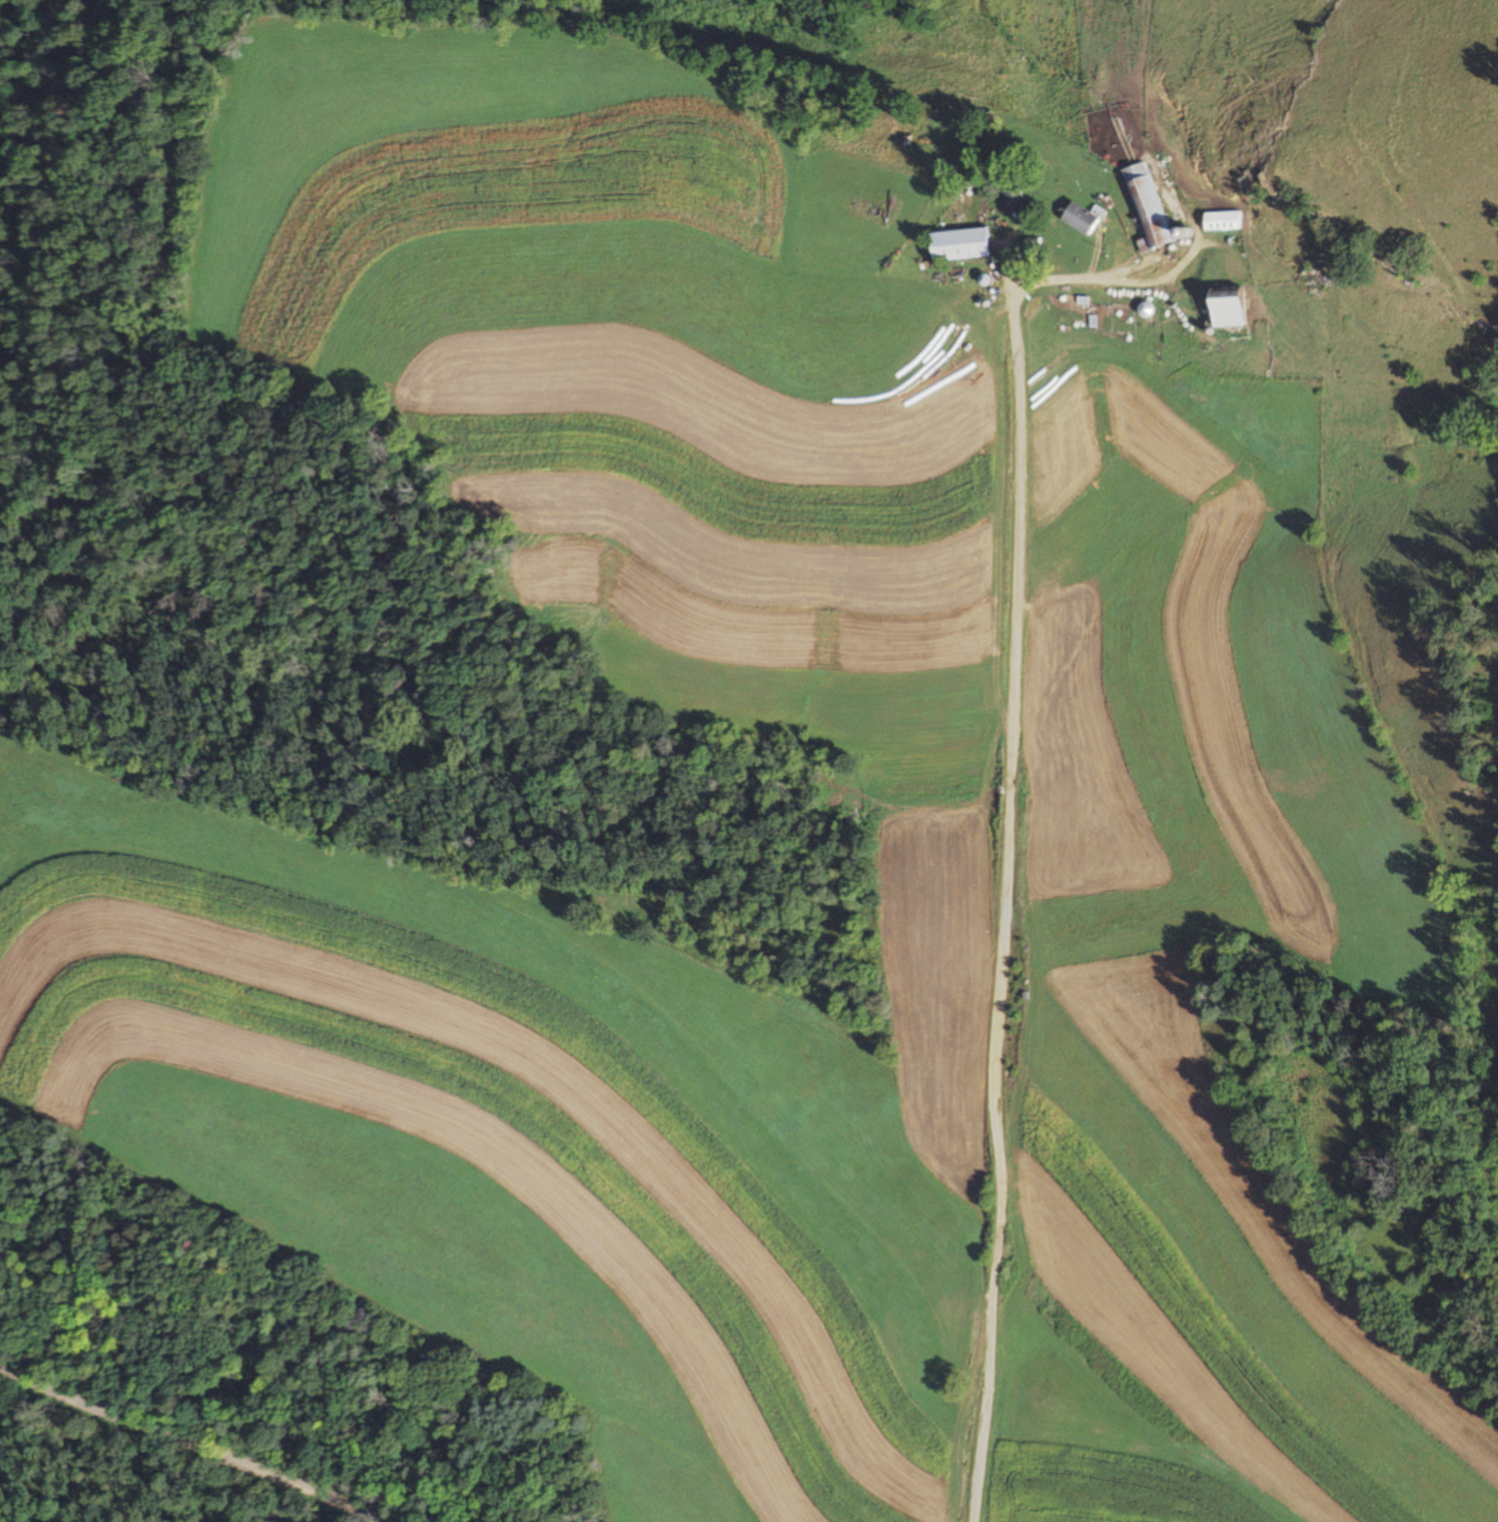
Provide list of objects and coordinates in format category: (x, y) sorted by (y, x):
building: (1011, 191)
building: (1147, 210)
building: (1076, 219)
building: (1217, 221)
building: (956, 245)
building: (1221, 307)
road: (998, 718)
road: (985, 1353)
road: (180, 1448)

